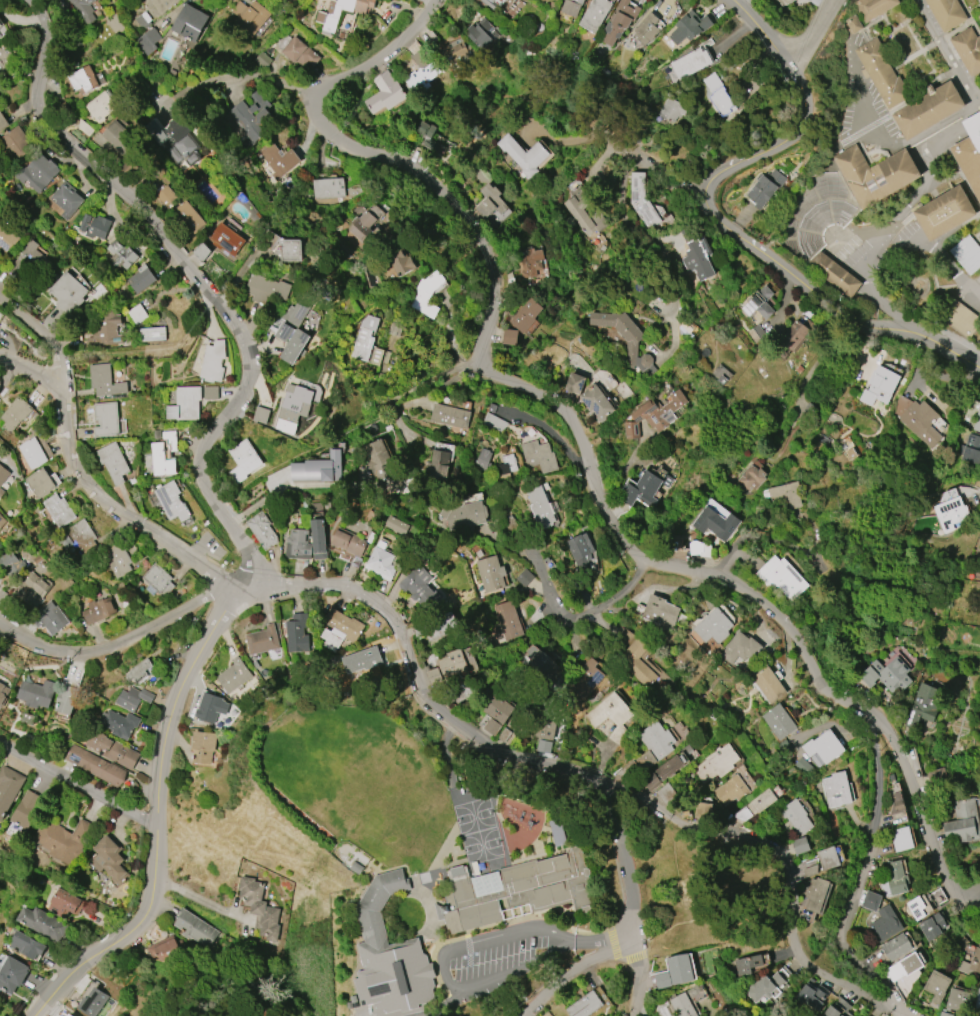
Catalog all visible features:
building: (98, 0)
building: (506, 0)
building: (784, 1)
building: (493, 3)
road: (820, 4)
building: (162, 5)
building: (571, 7)
building: (872, 7)
building: (84, 10)
building: (946, 12)
building: (594, 14)
building: (979, 15)
building: (250, 17)
building: (327, 17)
building: (620, 20)
building: (190, 23)
building: (855, 23)
building: (1, 25)
building: (689, 27)
building: (646, 29)
road: (809, 33)
building: (480, 34)
building: (148, 41)
building: (967, 48)
building: (299, 52)
building: (457, 52)
building: (6, 59)
building: (690, 62)
building: (881, 72)
building: (420, 73)
road: (242, 77)
building: (82, 79)
building: (385, 93)
building: (718, 94)
building: (100, 106)
building: (928, 108)
building: (671, 109)
building: (252, 116)
building: (2, 122)
building: (425, 136)
building: (119, 138)
building: (434, 138)
building: (173, 140)
building: (15, 142)
building: (970, 152)
building: (524, 155)
building: (277, 160)
building: (130, 167)
road: (661, 171)
building: (39, 173)
building: (877, 173)
building: (328, 188)
building: (765, 188)
building: (165, 196)
building: (66, 200)
building: (641, 200)
building: (490, 201)
road: (913, 202)
building: (944, 211)
building: (583, 212)
road: (715, 218)
building: (187, 219)
building: (94, 225)
building: (362, 225)
building: (6, 238)
building: (227, 239)
building: (282, 247)
building: (966, 253)
building: (120, 254)
building: (695, 255)
building: (29, 260)
building: (529, 261)
building: (400, 262)
building: (834, 272)
building: (141, 279)
building: (265, 288)
building: (68, 292)
building: (426, 294)
building: (759, 303)
building: (137, 314)
building: (526, 315)
building: (961, 316)
building: (106, 330)
building: (152, 334)
building: (794, 335)
building: (624, 336)
building: (509, 337)
road: (45, 339)
building: (366, 341)
building: (291, 342)
road: (673, 353)
road: (151, 354)
building: (213, 360)
road: (31, 371)
building: (721, 374)
road: (8, 376)
building: (104, 380)
building: (574, 383)
building: (879, 386)
building: (187, 402)
building: (596, 402)
building: (294, 404)
building: (15, 414)
building: (654, 414)
building: (450, 416)
building: (106, 419)
building: (917, 419)
building: (977, 420)
road: (349, 432)
road: (578, 438)
building: (971, 449)
building: (32, 453)
building: (164, 454)
building: (538, 455)
building: (378, 457)
building: (441, 458)
building: (483, 459)
building: (243, 460)
building: (112, 462)
building: (506, 464)
building: (317, 468)
building: (3, 474)
building: (749, 479)
building: (39, 483)
building: (641, 490)
building: (1, 492)
building: (786, 494)
building: (170, 501)
road: (214, 501)
building: (539, 506)
building: (58, 510)
road: (122, 510)
building: (950, 513)
building: (466, 516)
building: (2, 521)
building: (724, 524)
building: (396, 525)
building: (262, 530)
building: (81, 536)
building: (318, 539)
building: (348, 542)
building: (298, 544)
building: (578, 547)
building: (116, 559)
building: (380, 563)
building: (10, 565)
building: (490, 573)
building: (524, 577)
building: (781, 577)
building: (158, 580)
building: (419, 587)
building: (33, 589)
building: (3, 595)
road: (604, 604)
building: (98, 610)
building: (659, 610)
building: (49, 618)
building: (508, 620)
building: (437, 626)
building: (713, 626)
building: (339, 629)
building: (297, 633)
building: (262, 640)
road: (123, 641)
building: (741, 648)
building: (362, 660)
building: (635, 661)
building: (451, 664)
building: (542, 665)
building: (140, 670)
building: (234, 675)
building: (887, 675)
building: (585, 678)
building: (769, 685)
building: (36, 693)
building: (1, 694)
building: (132, 698)
building: (67, 699)
building: (924, 704)
building: (211, 707)
building: (494, 713)
building: (610, 716)
building: (779, 722)
building: (119, 723)
building: (518, 724)
building: (545, 727)
building: (504, 734)
building: (657, 738)
building: (542, 745)
building: (203, 746)
building: (823, 746)
building: (112, 750)
building: (716, 763)
building: (95, 765)
building: (637, 766)
building: (668, 768)
road: (592, 777)
building: (937, 780)
road: (78, 784)
building: (8, 789)
building: (836, 789)
building: (730, 790)
building: (665, 793)
building: (896, 803)
building: (756, 805)
building: (26, 810)
building: (702, 811)
building: (796, 817)
building: (962, 822)
building: (65, 838)
building: (902, 839)
building: (801, 845)
building: (828, 858)
building: (108, 860)
road: (861, 876)
building: (896, 878)
building: (520, 891)
road: (972, 893)
building: (816, 894)
building: (937, 897)
road: (197, 899)
road: (628, 899)
building: (871, 901)
road: (971, 902)
building: (62, 903)
building: (259, 908)
building: (917, 908)
building: (42, 922)
building: (884, 925)
building: (932, 926)
building: (194, 928)
building: (27, 945)
building: (897, 947)
building: (165, 949)
road: (438, 950)
building: (391, 957)
building: (747, 964)
building: (971, 964)
building: (904, 966)
building: (680, 969)
road: (574, 972)
building: (11, 973)
building: (663, 980)
building: (937, 985)
building: (764, 987)
building: (89, 995)
building: (977, 995)
building: (807, 999)
building: (959, 1000)
building: (687, 1001)
building: (585, 1005)
building: (831, 1012)
building: (944, 1014)

